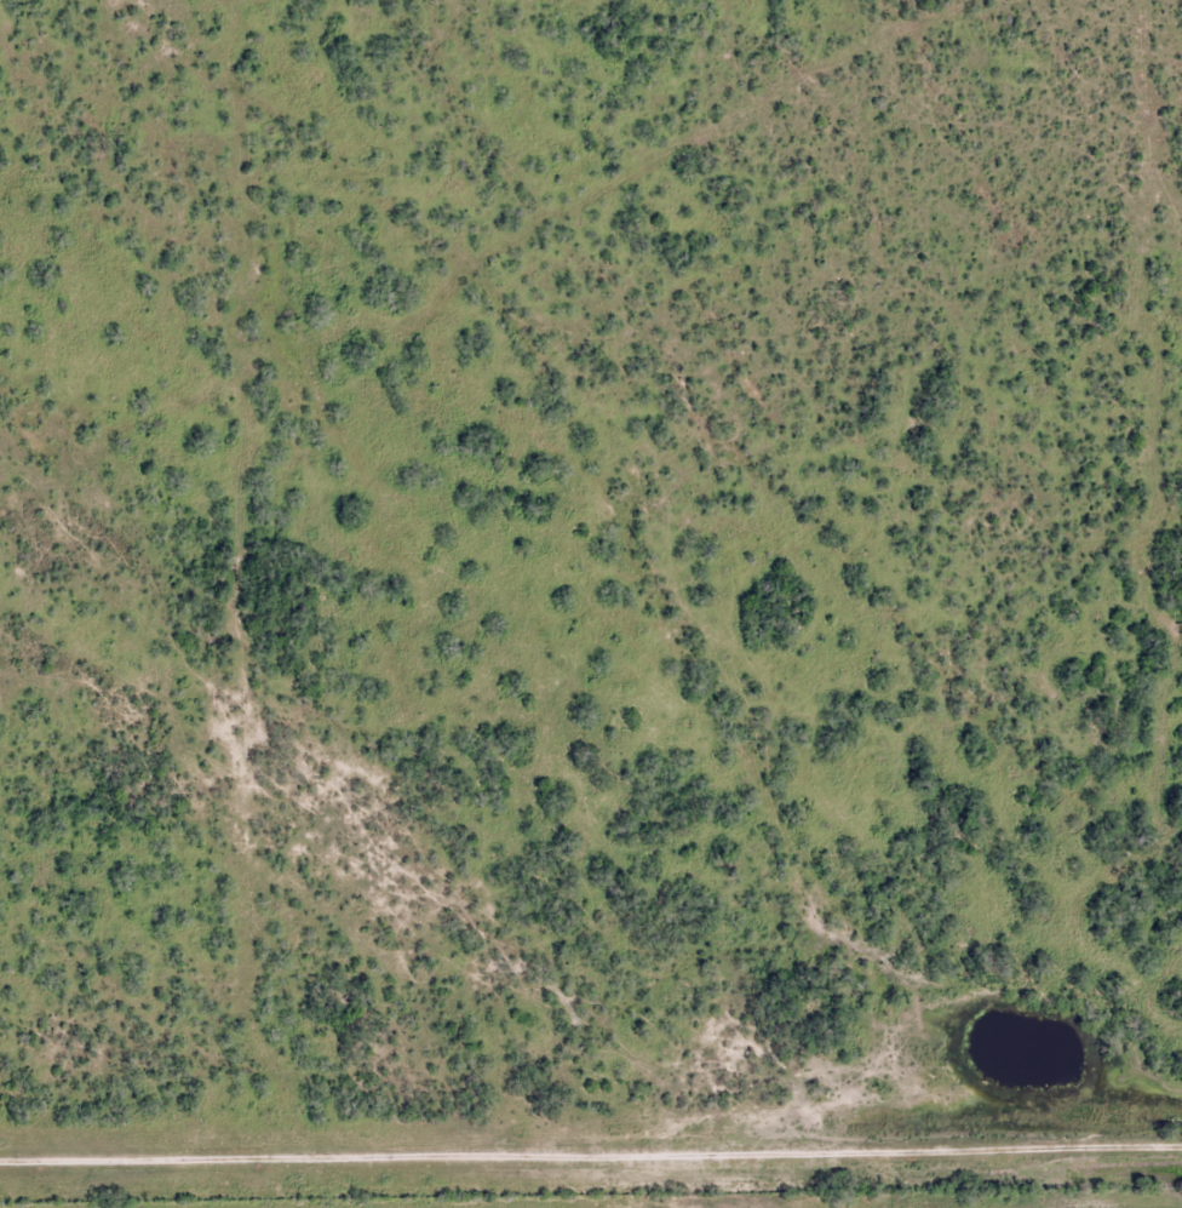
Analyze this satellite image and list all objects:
road: (591, 1121)
road: (735, 1196)

